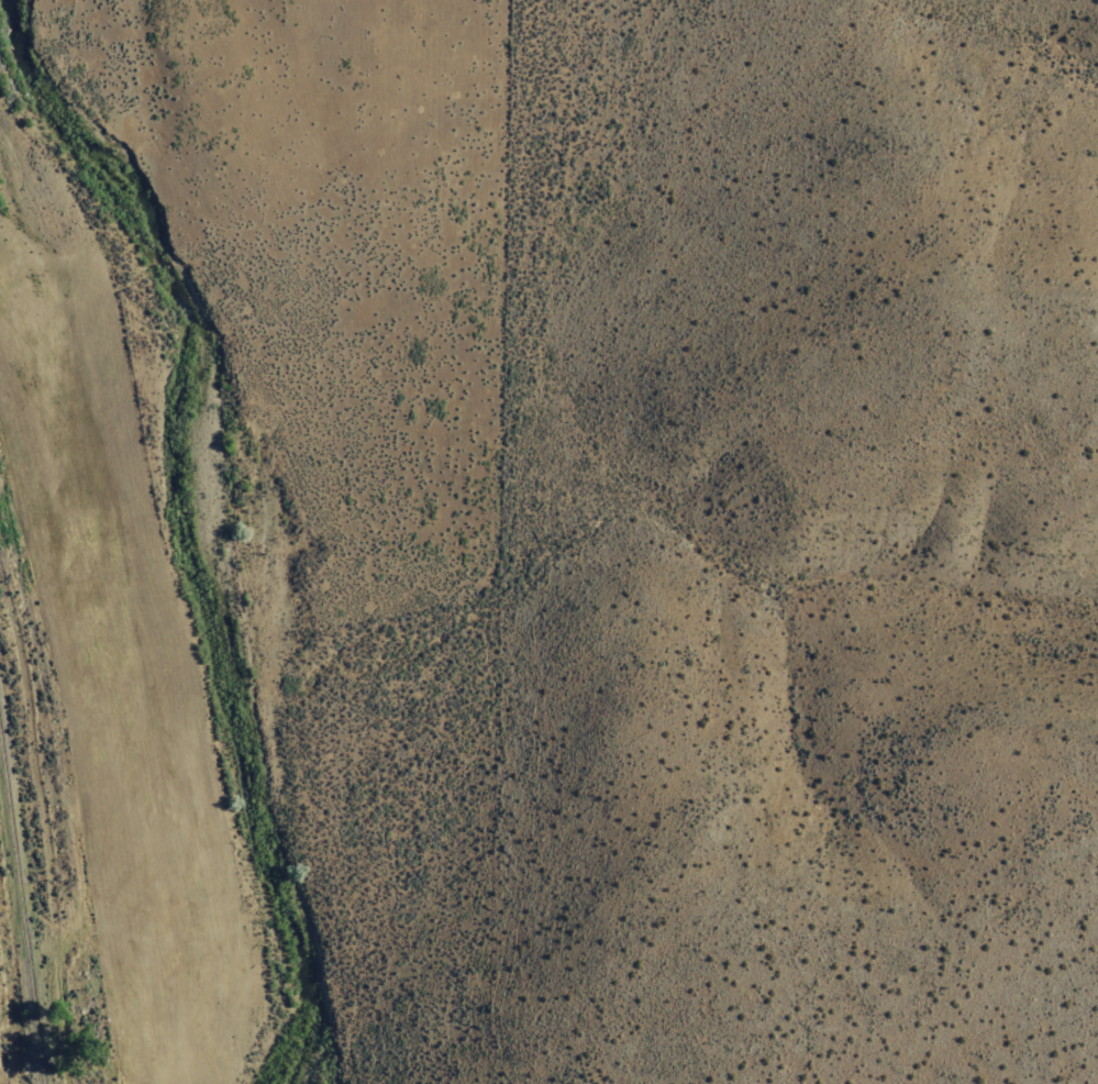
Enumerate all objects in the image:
crop: (34, 881)
railway: (22, 914)

